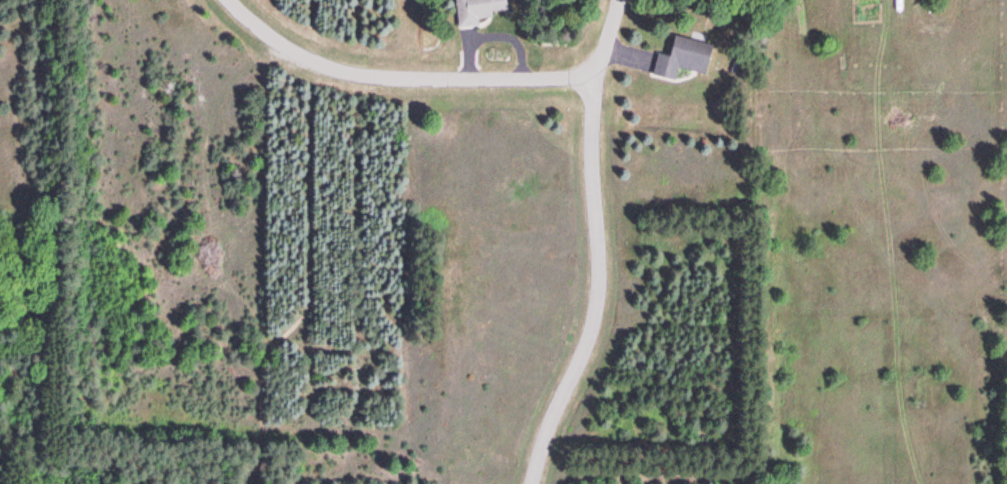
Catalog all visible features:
building: (479, 11)
road: (608, 40)
building: (684, 58)
road: (402, 79)
road: (308, 279)
road: (599, 287)

